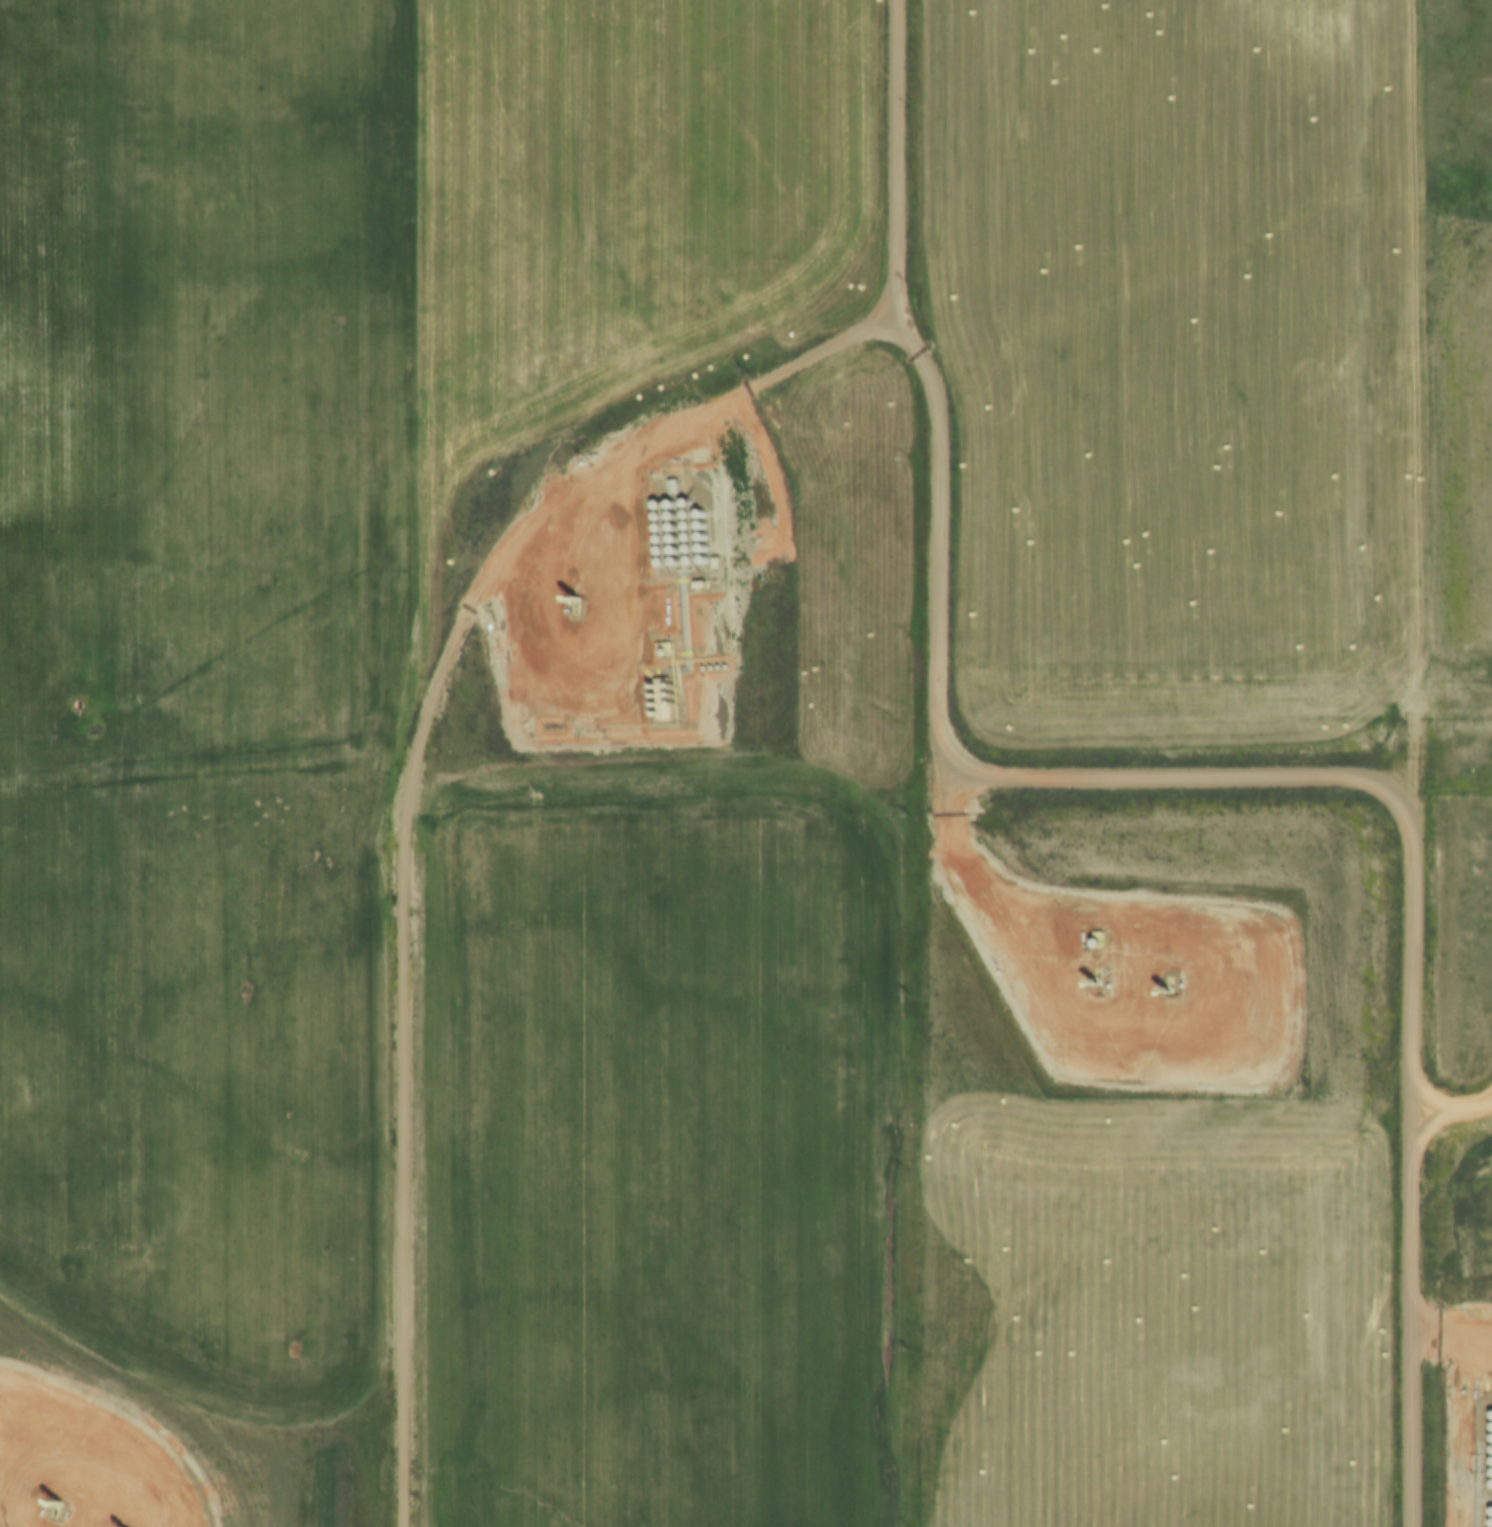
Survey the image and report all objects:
road: (1392, 404)
road: (409, 435)
building: (712, 561)
building: (695, 583)
petroleum well: (573, 599)
building: (660, 647)
road: (451, 653)
road: (598, 684)
building: (656, 697)
road: (1304, 778)
road: (1151, 1042)
road: (1447, 1104)
road: (1448, 1331)
road: (79, 1462)
petroleum well: (51, 1509)

